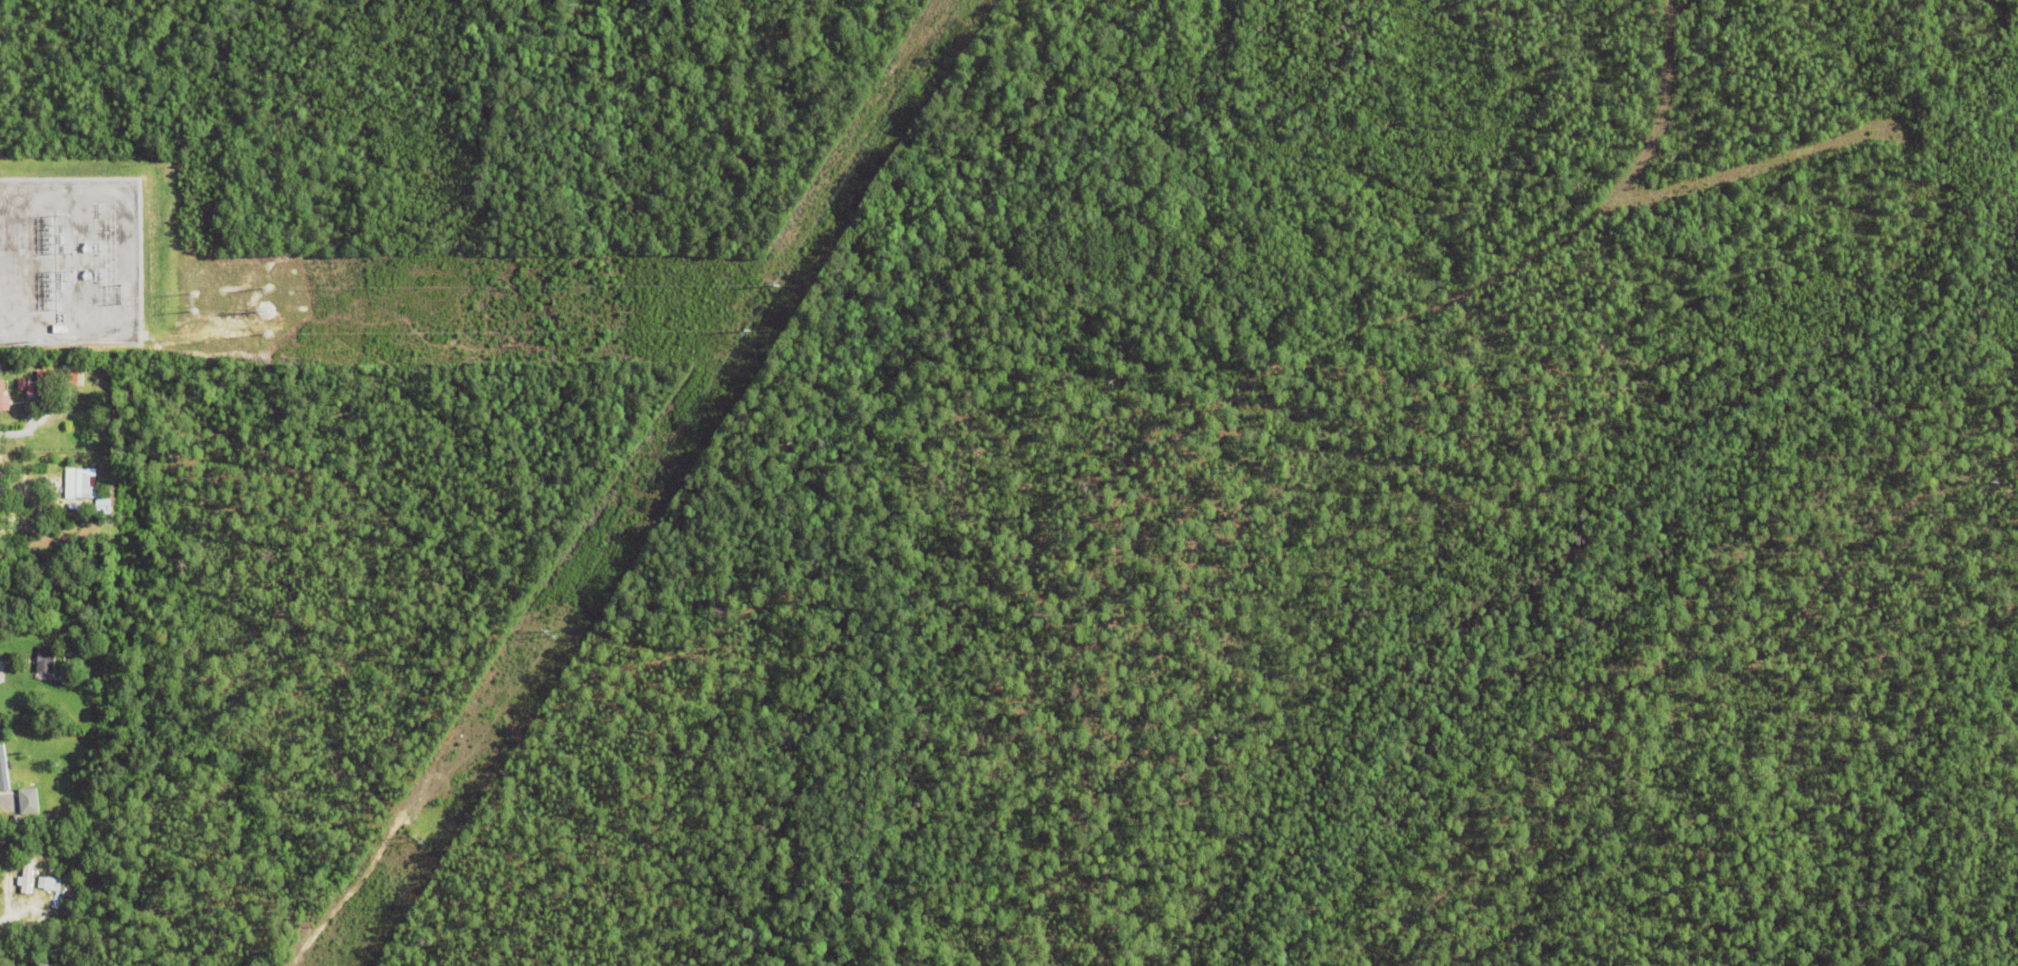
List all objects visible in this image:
building: (51, 382)
building: (3, 402)
building: (86, 489)
building: (3, 491)
road: (29, 520)
building: (20, 578)
building: (38, 644)
building: (42, 660)
building: (3, 774)
building: (25, 800)
building: (74, 852)
building: (34, 882)
building: (40, 903)
building: (47, 964)
building: (74, 964)

